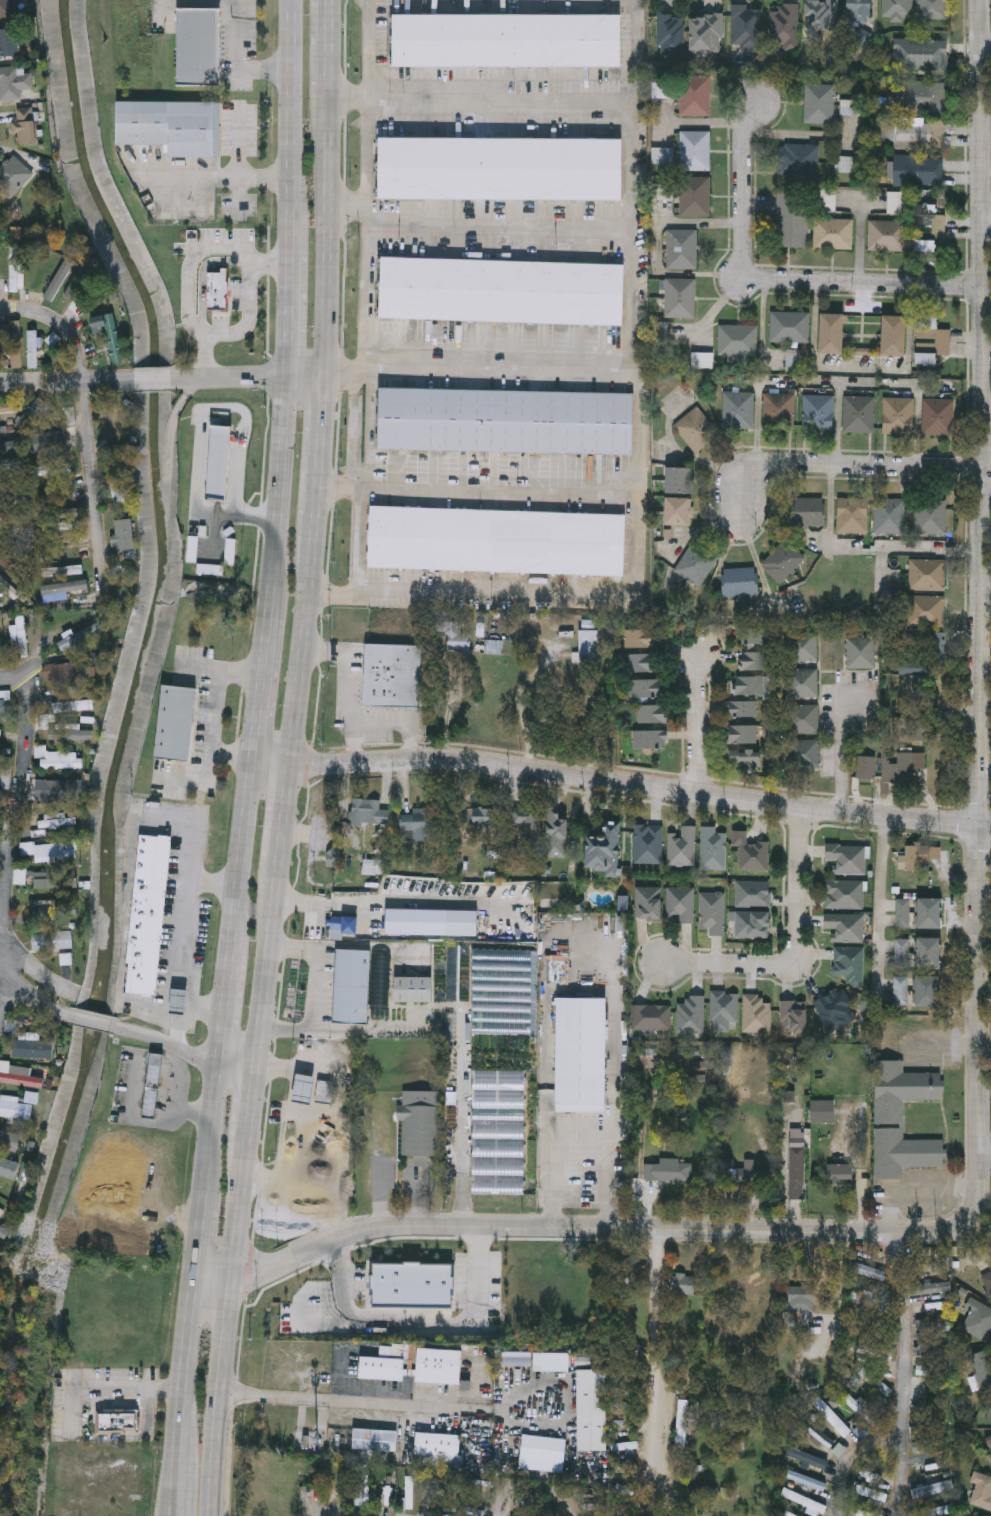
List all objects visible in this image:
building: (6, 8)
building: (898, 9)
building: (933, 9)
building: (858, 11)
building: (821, 17)
building: (747, 26)
building: (785, 26)
building: (706, 33)
building: (671, 35)
building: (506, 40)
building: (9, 42)
building: (197, 46)
road: (986, 48)
building: (920, 53)
road: (239, 59)
road: (323, 61)
building: (13, 83)
building: (695, 95)
building: (920, 95)
road: (476, 99)
building: (819, 103)
building: (851, 107)
road: (287, 125)
building: (26, 126)
building: (169, 126)
building: (920, 134)
building: (694, 150)
building: (798, 161)
building: (499, 168)
road: (240, 170)
building: (917, 170)
building: (13, 175)
road: (743, 178)
road: (182, 180)
road: (228, 180)
building: (694, 196)
building: (827, 200)
building: (896, 202)
road: (476, 209)
building: (791, 220)
road: (987, 223)
building: (927, 226)
building: (833, 234)
building: (887, 235)
road: (321, 249)
building: (682, 249)
road: (247, 256)
road: (267, 259)
building: (16, 269)
building: (60, 278)
road: (857, 283)
building: (75, 286)
building: (218, 290)
building: (500, 290)
road: (364, 295)
building: (680, 298)
road: (285, 312)
building: (788, 327)
building: (111, 333)
building: (829, 334)
building: (891, 336)
building: (931, 338)
building: (736, 340)
building: (14, 344)
building: (33, 345)
road: (477, 364)
road: (251, 376)
road: (156, 378)
road: (65, 380)
building: (11, 407)
building: (739, 410)
building: (778, 410)
building: (817, 413)
building: (32, 414)
building: (858, 414)
building: (69, 416)
building: (897, 416)
building: (937, 417)
building: (110, 420)
building: (505, 420)
road: (88, 424)
building: (697, 429)
building: (50, 442)
building: (10, 446)
road: (316, 447)
road: (681, 453)
road: (637, 462)
road: (845, 467)
building: (51, 469)
building: (122, 477)
building: (680, 478)
road: (475, 486)
road: (275, 493)
road: (987, 494)
building: (680, 510)
building: (809, 511)
building: (60, 512)
building: (855, 514)
building: (891, 514)
building: (933, 516)
building: (126, 534)
building: (497, 539)
road: (866, 551)
building: (784, 560)
building: (698, 562)
building: (47, 571)
building: (929, 573)
building: (742, 581)
building: (68, 585)
building: (7, 588)
building: (928, 609)
building: (22, 636)
building: (82, 636)
building: (451, 636)
building: (753, 636)
building: (641, 638)
road: (297, 642)
building: (804, 645)
building: (593, 646)
building: (0, 647)
building: (942, 647)
building: (862, 652)
building: (755, 660)
building: (641, 662)
building: (77, 671)
building: (393, 675)
road: (8, 682)
road: (347, 682)
building: (803, 682)
building: (752, 685)
road: (256, 687)
building: (647, 687)
road: (519, 703)
building: (3, 705)
building: (74, 705)
building: (750, 709)
building: (654, 713)
road: (401, 717)
building: (804, 718)
building: (177, 721)
road: (692, 722)
building: (74, 734)
building: (743, 734)
building: (652, 738)
building: (805, 753)
road: (840, 753)
building: (745, 756)
building: (59, 759)
road: (266, 766)
building: (6, 768)
building: (867, 768)
building: (907, 768)
road: (632, 783)
building: (370, 811)
road: (279, 813)
road: (6, 815)
building: (483, 816)
building: (56, 820)
road: (11, 821)
building: (421, 822)
building: (527, 823)
road: (985, 825)
building: (557, 834)
building: (648, 842)
building: (682, 845)
building: (606, 847)
building: (712, 847)
building: (50, 851)
building: (750, 851)
building: (847, 857)
building: (918, 858)
road: (238, 861)
building: (21, 875)
road: (212, 882)
building: (753, 892)
building: (844, 893)
building: (649, 902)
road: (879, 902)
road: (404, 903)
building: (679, 903)
road: (301, 904)
building: (49, 907)
building: (711, 911)
building: (902, 913)
building: (931, 913)
road: (185, 914)
building: (150, 915)
building: (750, 923)
building: (845, 926)
road: (572, 939)
building: (53, 940)
road: (366, 946)
road: (797, 949)
building: (902, 953)
building: (929, 953)
road: (265, 963)
building: (850, 963)
building: (352, 987)
building: (413, 989)
road: (315, 990)
building: (900, 991)
building: (928, 991)
road: (5, 994)
road: (31, 995)
building: (835, 1007)
road: (977, 1008)
building: (724, 1009)
road: (222, 1010)
building: (691, 1013)
building: (757, 1013)
building: (795, 1015)
building: (652, 1016)
road: (94, 1021)
road: (183, 1022)
road: (188, 1047)
building: (25, 1049)
building: (582, 1055)
building: (21, 1076)
road: (293, 1078)
building: (153, 1085)
building: (303, 1090)
building: (902, 1090)
building: (323, 1093)
road: (252, 1107)
building: (16, 1109)
building: (823, 1112)
building: (420, 1123)
road: (465, 1138)
building: (10, 1140)
building: (904, 1153)
road: (582, 1154)
road: (984, 1154)
building: (498, 1157)
building: (9, 1168)
building: (652, 1172)
building: (679, 1172)
building: (798, 1173)
building: (744, 1174)
building: (840, 1174)
building: (131, 1232)
building: (928, 1266)
building: (866, 1269)
building: (987, 1281)
building: (680, 1283)
building: (412, 1287)
road: (190, 1288)
building: (930, 1288)
road: (843, 1290)
building: (799, 1304)
building: (931, 1305)
building: (978, 1322)
road: (315, 1325)
building: (933, 1325)
road: (415, 1326)
road: (225, 1330)
road: (653, 1350)
building: (517, 1359)
building: (552, 1361)
building: (439, 1365)
building: (382, 1367)
building: (982, 1371)
road: (906, 1375)
road: (108, 1390)
building: (852, 1402)
road: (457, 1409)
building: (592, 1410)
building: (830, 1415)
building: (117, 1422)
building: (681, 1422)
building: (374, 1439)
building: (438, 1443)
building: (542, 1453)
building: (931, 1454)
road: (848, 1455)
building: (807, 1457)
road: (532, 1484)
building: (869, 1492)
building: (979, 1492)
building: (802, 1500)
road: (339, 1510)
building: (870, 1514)

